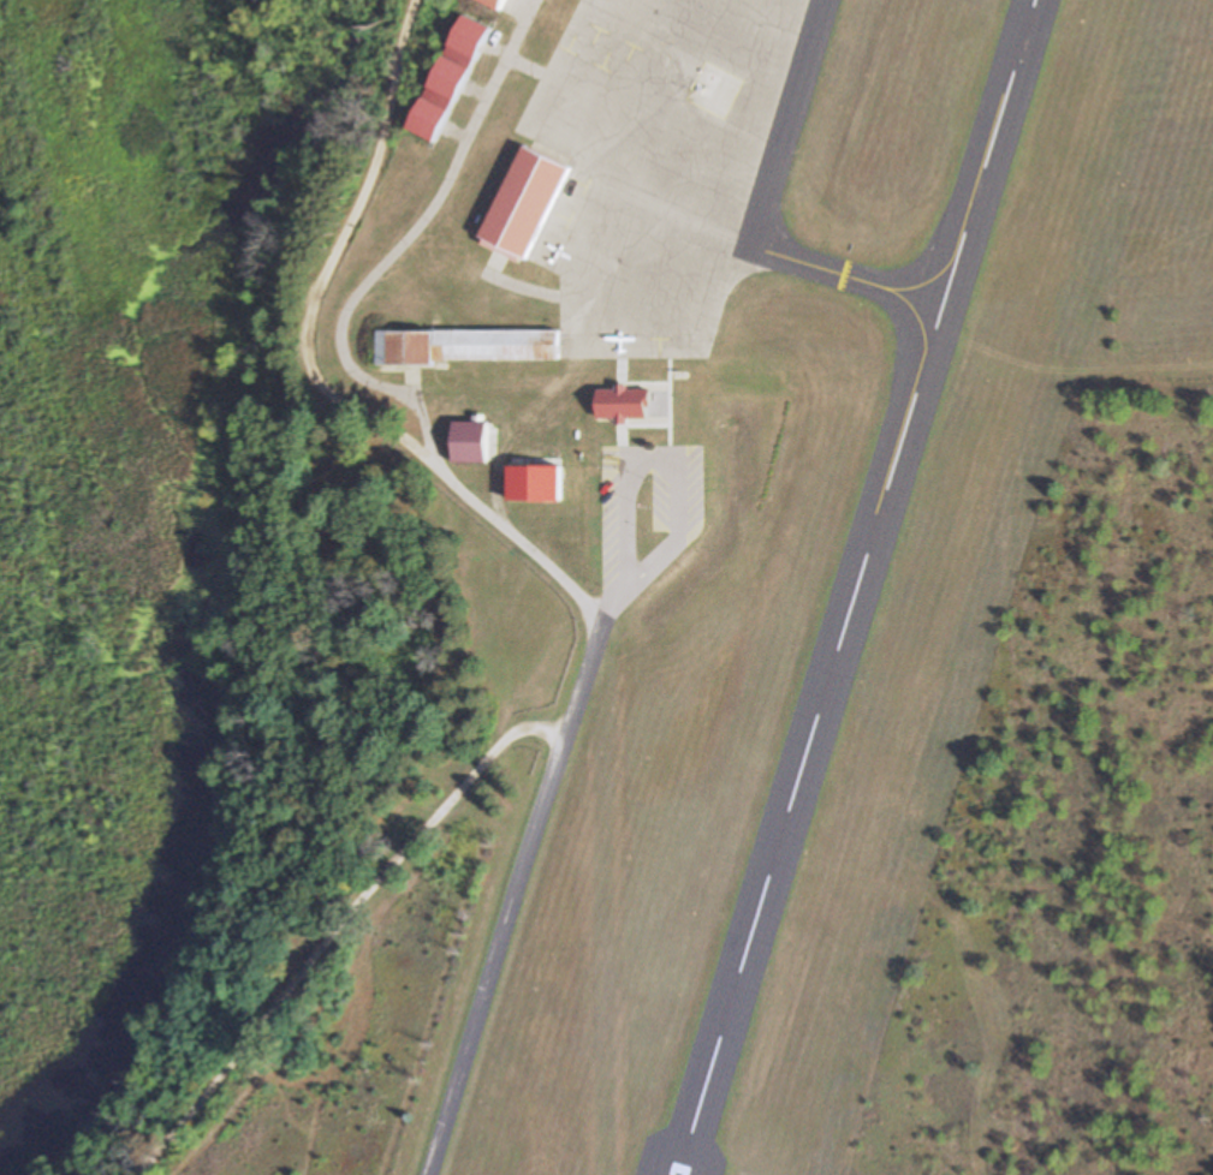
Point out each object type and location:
building: (459, 1)
airport hangar: (495, 4)
building: (495, 4)
airport hangar: (450, 78)
building: (450, 78)
airport taxiway: (787, 123)
airport apron: (662, 162)
airport hangar: (527, 202)
building: (527, 202)
road: (337, 260)
airport taxiway: (849, 276)
road: (345, 339)
airport hangar: (465, 346)
building: (465, 346)
building: (631, 439)
building: (471, 442)
building: (608, 458)
building: (536, 481)
airport: (803, 554)
airport runway: (860, 586)
road: (554, 785)

